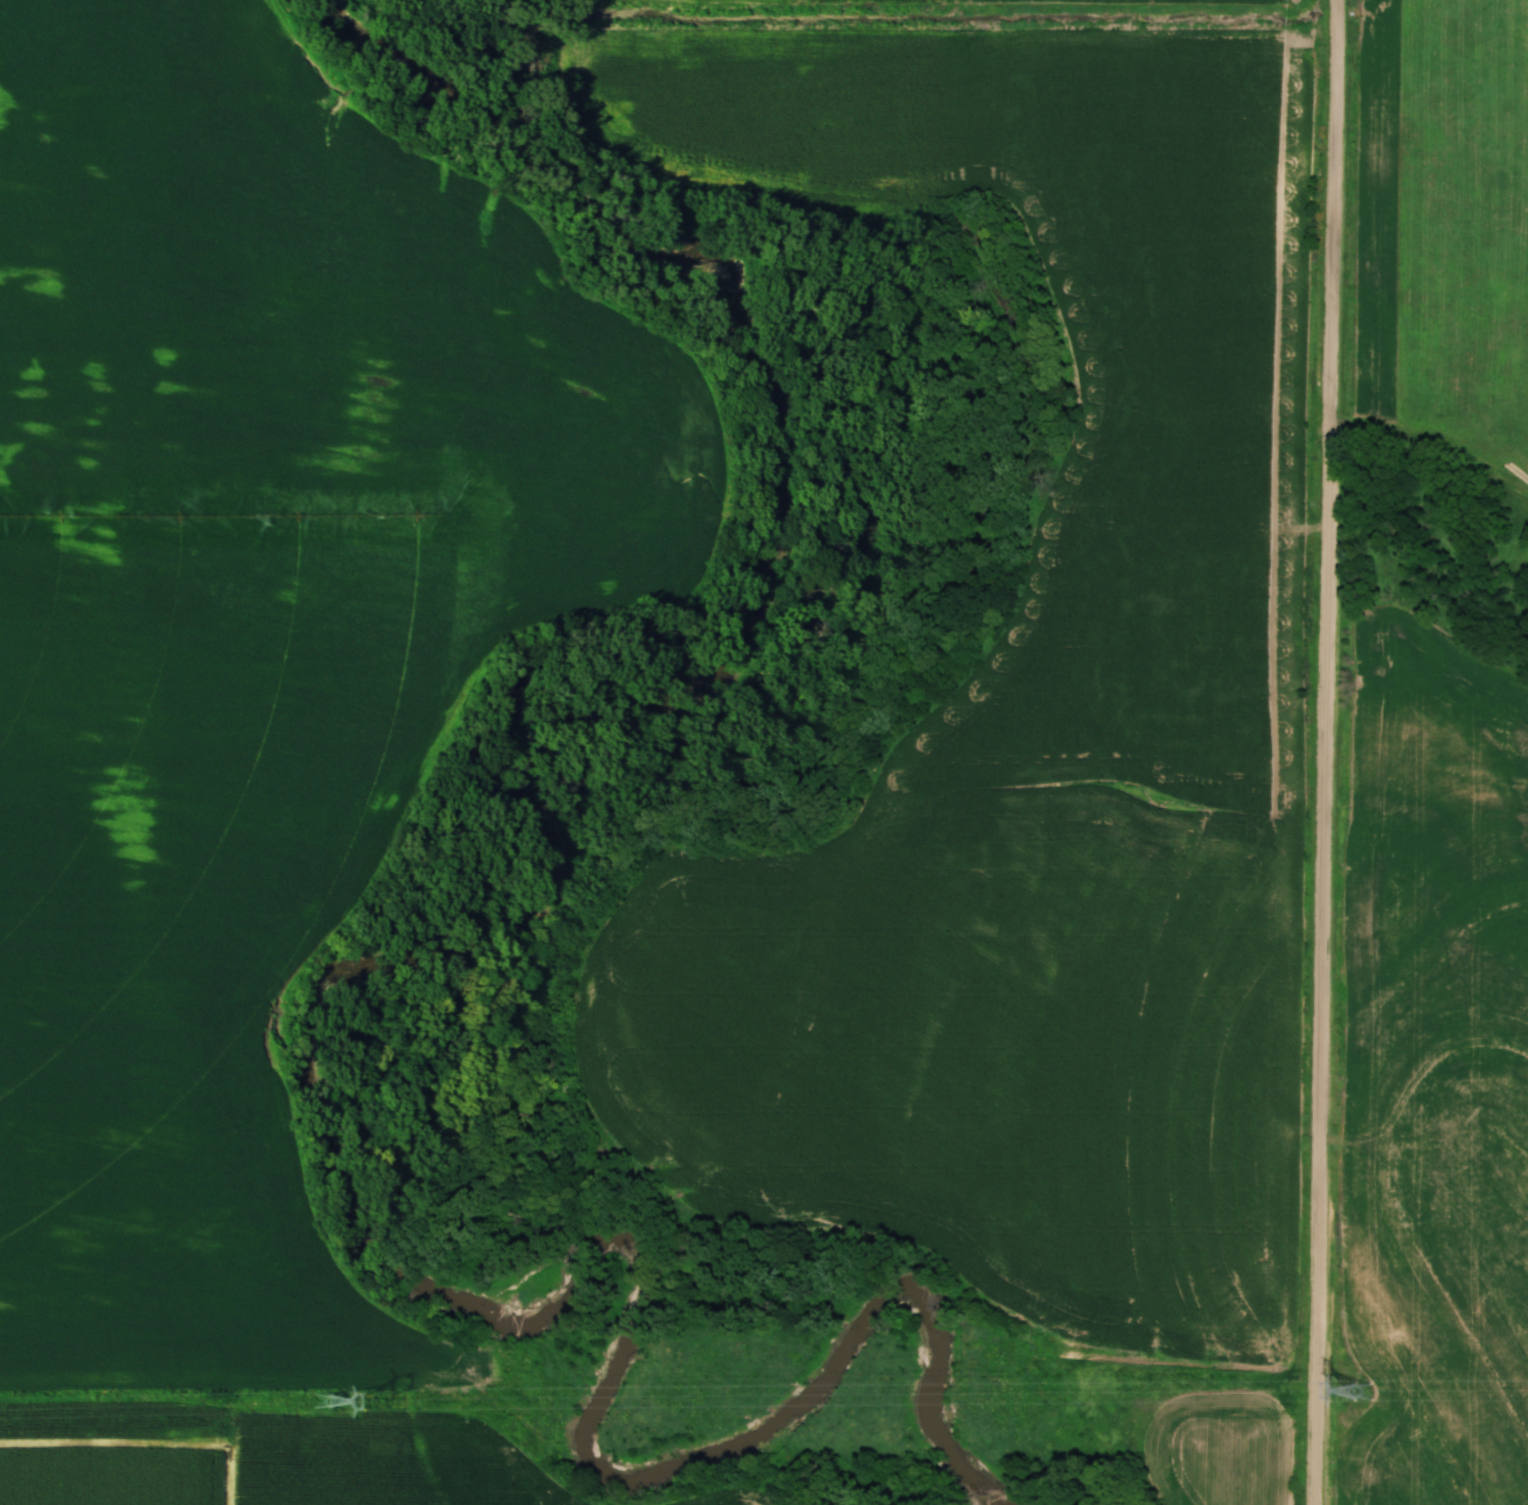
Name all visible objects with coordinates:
road: (1330, 752)
power tower: (1362, 1392)
power tower: (318, 1401)

